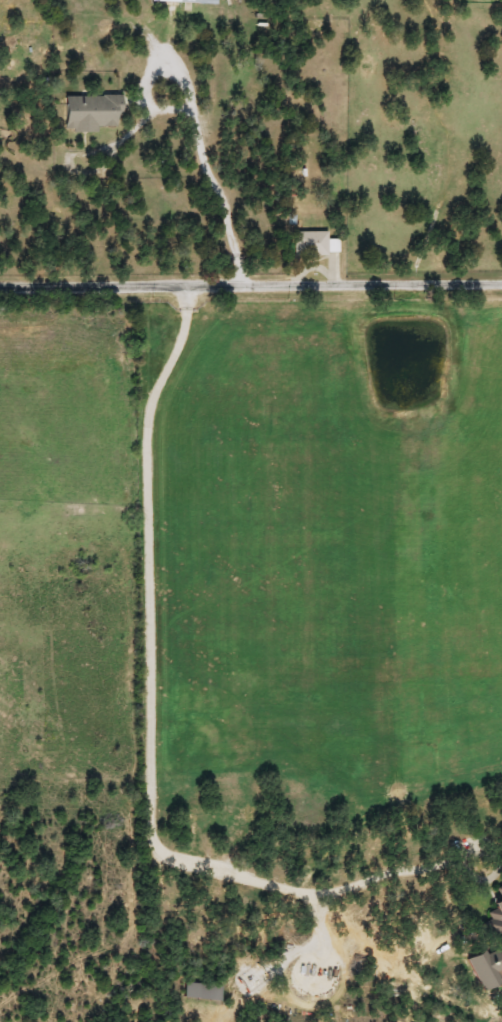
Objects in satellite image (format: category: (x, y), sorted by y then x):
building: (186, 1)
building: (89, 113)
building: (309, 244)
road: (251, 283)
road: (77, 406)
road: (153, 706)
building: (494, 915)
building: (200, 992)

